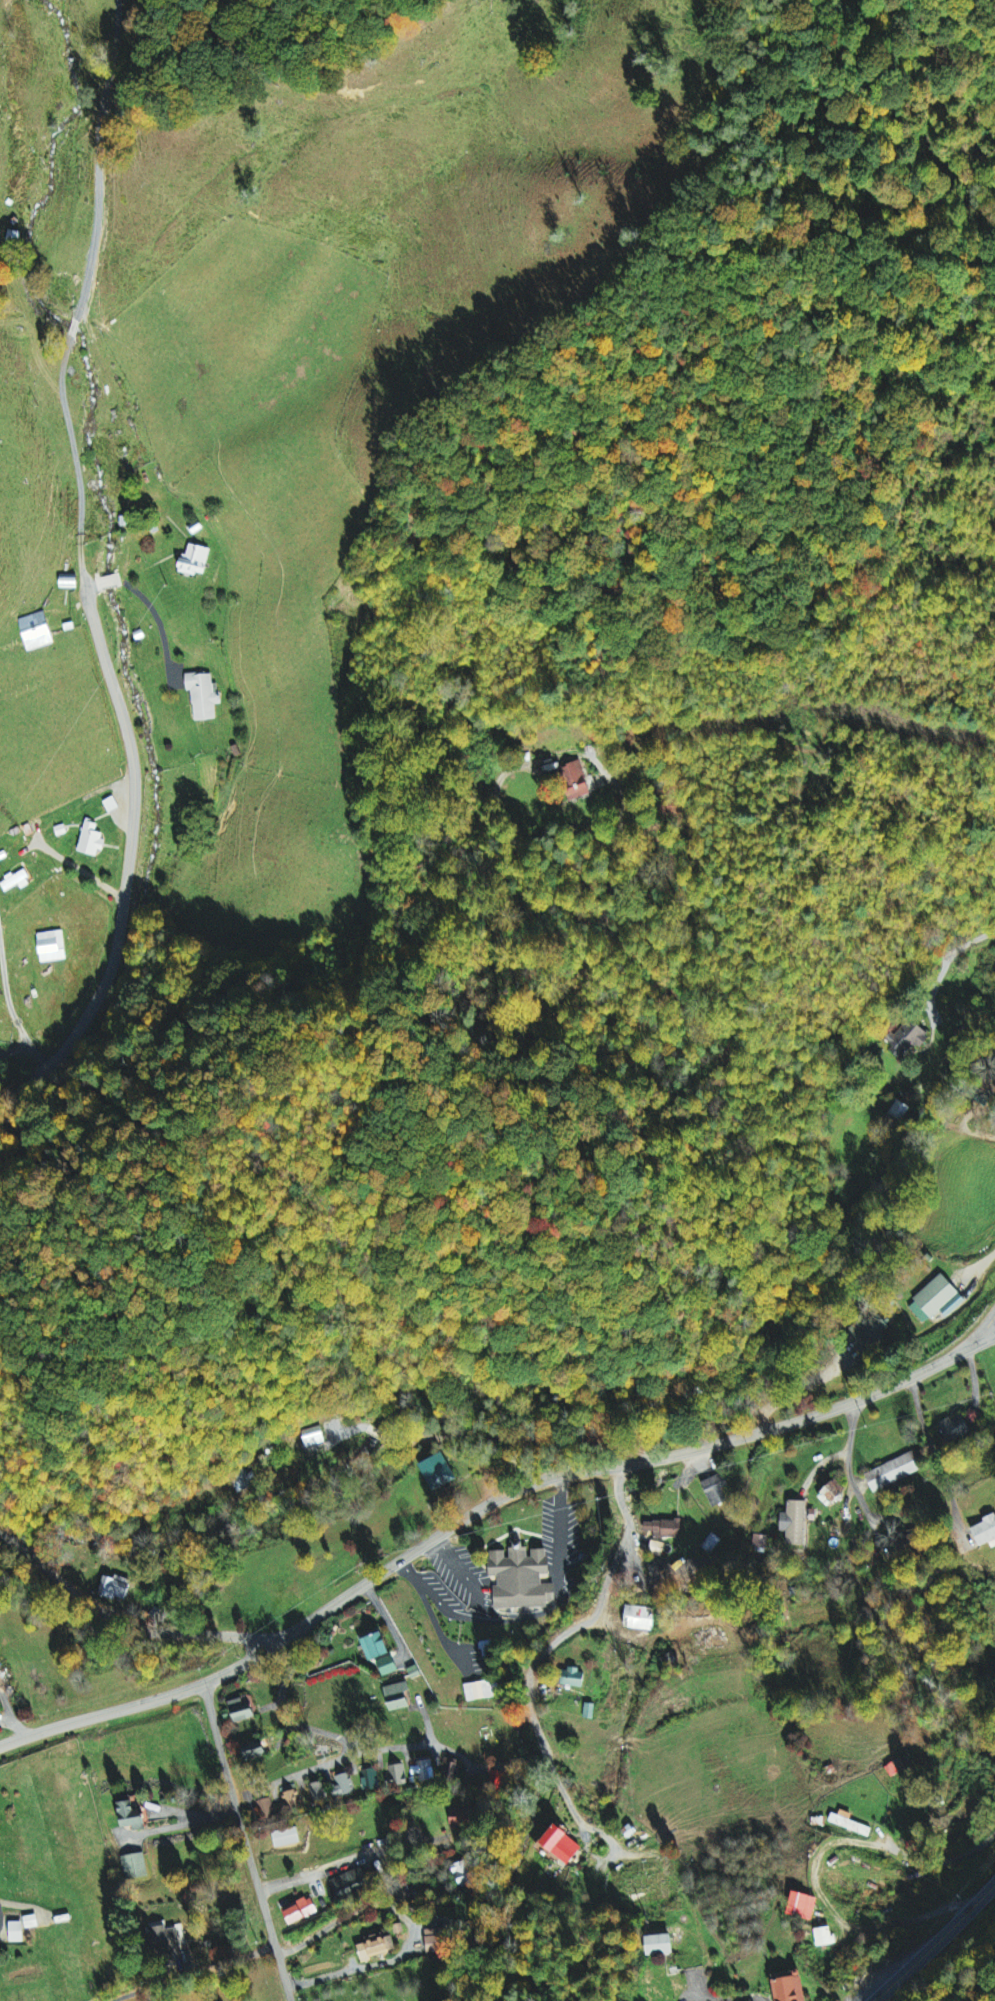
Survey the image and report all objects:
building: (196, 561)
road: (81, 571)
road: (286, 610)
building: (37, 632)
building: (204, 697)
building: (576, 781)
road: (573, 790)
building: (112, 805)
building: (92, 841)
building: (17, 882)
building: (52, 947)
road: (795, 970)
road: (11, 1007)
building: (907, 1038)
building: (934, 1299)
building: (872, 1331)
road: (988, 1333)
building: (956, 1429)
building: (313, 1437)
road: (529, 1442)
road: (850, 1444)
road: (936, 1454)
building: (438, 1472)
building: (894, 1472)
road: (468, 1489)
building: (718, 1490)
building: (833, 1492)
building: (796, 1523)
building: (664, 1529)
building: (985, 1531)
building: (657, 1549)
building: (520, 1576)
building: (115, 1588)
road: (110, 1601)
building: (641, 1618)
road: (559, 1620)
building: (712, 1640)
building: (376, 1646)
building: (0, 1665)
building: (388, 1666)
road: (275, 1677)
building: (575, 1678)
building: (478, 1691)
road: (353, 1695)
building: (398, 1697)
building: (242, 1711)
building: (590, 1711)
road: (15, 1725)
building: (254, 1751)
building: (899, 1767)
building: (426, 1771)
building: (397, 1774)
building: (370, 1779)
building: (343, 1786)
building: (318, 1792)
road: (310, 1796)
building: (291, 1800)
building: (131, 1817)
building: (848, 1823)
road: (174, 1825)
building: (286, 1838)
road: (248, 1843)
building: (562, 1845)
road: (350, 1859)
road: (818, 1859)
building: (134, 1867)
building: (464, 1875)
building: (351, 1883)
road: (726, 1900)
building: (802, 1906)
building: (302, 1911)
road: (414, 1926)
building: (16, 1932)
building: (824, 1937)
building: (164, 1938)
road: (934, 1942)
building: (659, 1945)
building: (435, 1946)
building: (377, 1947)
road: (193, 1972)
building: (790, 1989)

